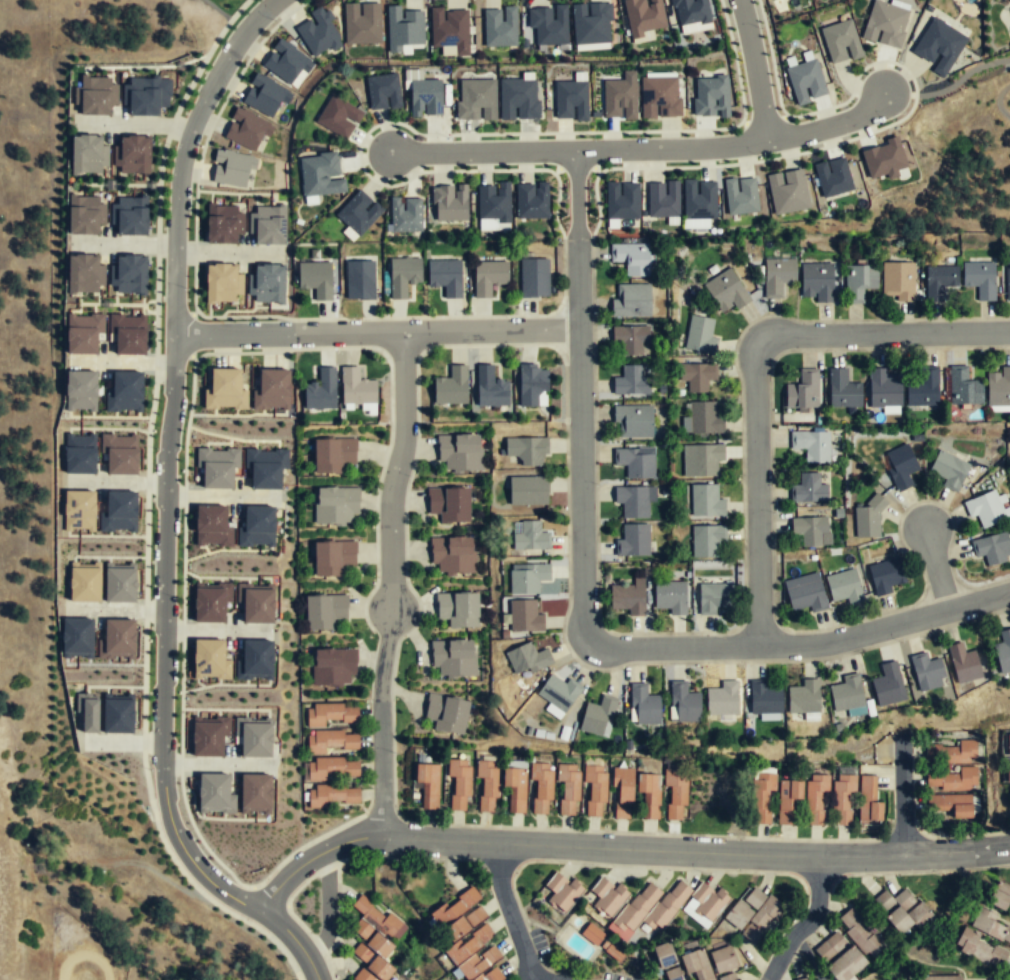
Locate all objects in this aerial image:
building: (770, 0)
park: (229, 5)
building: (1009, 10)
building: (690, 11)
building: (644, 17)
building: (548, 24)
building: (885, 24)
building: (362, 25)
building: (591, 25)
building: (500, 26)
building: (404, 28)
building: (450, 29)
building: (318, 32)
building: (840, 43)
building: (939, 45)
road: (771, 57)
road: (207, 58)
road: (735, 59)
building: (287, 63)
road: (754, 69)
road: (962, 76)
road: (856, 78)
building: (805, 82)
building: (383, 93)
building: (146, 95)
building: (94, 96)
building: (711, 96)
building: (425, 97)
building: (640, 97)
building: (475, 98)
building: (518, 98)
building: (250, 100)
building: (570, 100)
road: (998, 100)
road: (215, 113)
building: (338, 117)
road: (764, 120)
road: (133, 124)
building: (245, 130)
road: (644, 147)
building: (87, 154)
building: (132, 155)
building: (884, 158)
building: (230, 169)
road: (449, 170)
building: (320, 175)
building: (833, 178)
road: (158, 182)
building: (787, 193)
road: (577, 195)
building: (741, 196)
building: (532, 199)
building: (663, 199)
building: (622, 200)
building: (493, 201)
building: (699, 202)
building: (449, 203)
building: (359, 214)
building: (85, 215)
building: (129, 215)
building: (405, 215)
building: (223, 223)
building: (267, 225)
road: (121, 244)
road: (230, 252)
building: (630, 258)
building: (84, 273)
building: (129, 274)
building: (775, 274)
building: (402, 276)
building: (445, 276)
building: (489, 277)
building: (315, 278)
building: (535, 278)
building: (896, 279)
building: (979, 279)
building: (360, 280)
building: (815, 280)
building: (857, 280)
building: (939, 281)
building: (1007, 282)
building: (222, 283)
building: (268, 284)
building: (724, 289)
building: (629, 299)
flagpole: (414, 302)
road: (155, 304)
street lamp: (923, 315)
road: (216, 320)
road: (377, 332)
building: (82, 333)
building: (128, 333)
building: (698, 334)
building: (628, 337)
street lamp: (731, 353)
road: (120, 361)
road: (755, 366)
building: (696, 374)
building: (628, 380)
building: (532, 383)
building: (451, 386)
building: (962, 386)
building: (490, 387)
building: (921, 387)
building: (997, 387)
building: (358, 389)
building: (801, 389)
building: (80, 390)
building: (224, 390)
building: (271, 390)
building: (321, 390)
building: (842, 390)
building: (882, 390)
building: (124, 392)
building: (700, 418)
building: (631, 419)
road: (153, 426)
road: (566, 427)
building: (915, 437)
building: (810, 444)
building: (528, 450)
building: (460, 452)
building: (79, 453)
building: (119, 453)
building: (332, 454)
road: (167, 458)
building: (702, 458)
building: (633, 460)
building: (897, 465)
building: (217, 466)
building: (265, 467)
building: (947, 468)
road: (396, 470)
road: (116, 482)
building: (806, 488)
building: (529, 489)
road: (223, 496)
building: (635, 499)
building: (707, 500)
building: (449, 504)
building: (334, 505)
building: (983, 507)
building: (79, 509)
building: (117, 511)
street lamp: (776, 513)
building: (866, 516)
building: (210, 525)
building: (253, 525)
building: (808, 528)
building: (531, 535)
building: (634, 540)
building: (707, 540)
building: (990, 547)
building: (452, 555)
building: (332, 557)
road: (937, 567)
building: (883, 575)
building: (528, 576)
building: (84, 582)
building: (119, 583)
road: (598, 583)
road: (773, 583)
building: (842, 585)
road: (943, 587)
building: (803, 592)
building: (671, 594)
building: (629, 595)
building: (715, 596)
building: (208, 601)
building: (253, 602)
building: (457, 610)
building: (325, 612)
building: (525, 615)
road: (759, 621)
road: (221, 632)
building: (77, 636)
street lamp: (560, 637)
building: (117, 638)
road: (601, 647)
building: (1002, 650)
building: (528, 657)
building: (206, 659)
building: (251, 659)
building: (452, 659)
building: (961, 662)
building: (333, 665)
building: (924, 670)
building: (886, 684)
building: (559, 691)
building: (846, 695)
building: (723, 698)
building: (802, 698)
building: (762, 699)
building: (686, 701)
building: (645, 703)
building: (87, 711)
building: (118, 713)
building: (332, 713)
building: (446, 714)
building: (598, 714)
road: (382, 722)
building: (207, 734)
building: (250, 737)
building: (332, 741)
building: (1008, 745)
building: (953, 754)
road: (140, 765)
building: (331, 769)
building: (1009, 769)
building: (951, 781)
building: (459, 784)
building: (427, 785)
building: (488, 785)
building: (541, 789)
building: (568, 789)
building: (516, 790)
building: (621, 790)
building: (596, 791)
building: (213, 792)
building: (251, 792)
building: (648, 793)
building: (674, 793)
building: (331, 797)
road: (903, 799)
building: (774, 800)
building: (816, 800)
building: (842, 801)
building: (868, 802)
building: (951, 806)
road: (621, 848)
building: (560, 894)
building: (999, 894)
building: (607, 897)
building: (705, 905)
building: (649, 908)
building: (901, 912)
building: (753, 915)
building: (379, 918)
road: (512, 918)
road: (805, 922)
building: (990, 924)
building: (466, 934)
building: (592, 935)
road: (294, 938)
building: (978, 946)
building: (849, 947)
building: (613, 953)
building: (371, 954)
building: (721, 956)
road: (809, 959)
building: (695, 965)
building: (490, 974)
building: (673, 974)
building: (727, 977)
building: (938, 977)
building: (803, 978)

